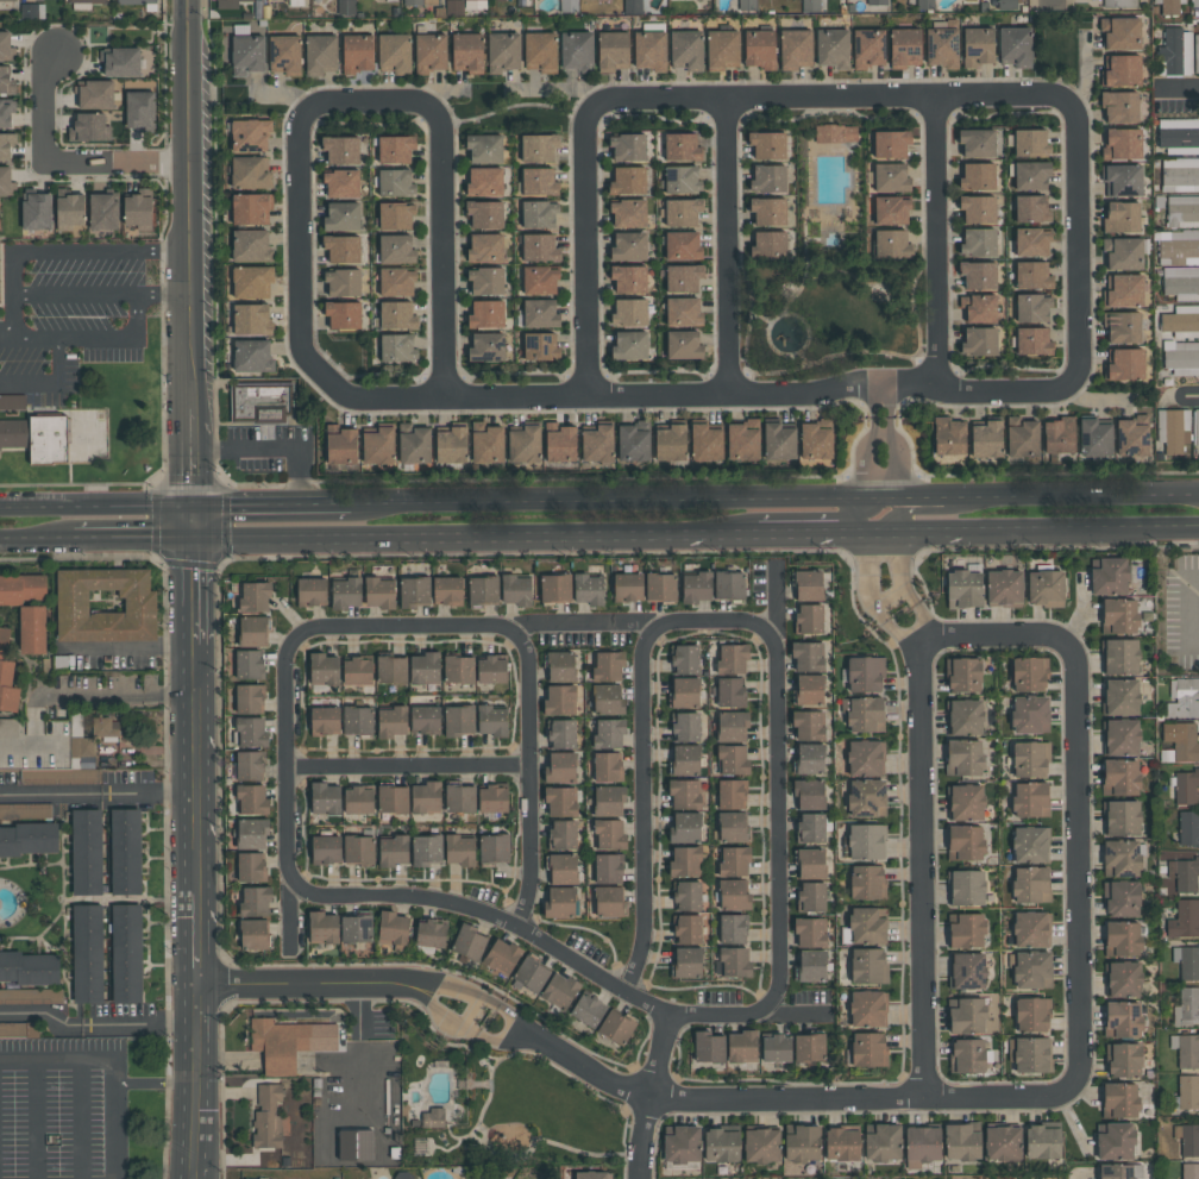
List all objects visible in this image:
building: (7, 0)
building: (391, 0)
building: (969, 0)
building: (86, 1)
building: (136, 2)
building: (421, 2)
building: (699, 2)
building: (877, 2)
building: (1194, 2)
building: (230, 4)
road: (1052, 4)
building: (1119, 4)
building: (747, 5)
building: (925, 5)
building: (1007, 5)
building: (633, 6)
building: (810, 6)
building: (1169, 6)
building: (346, 7)
building: (454, 7)
building: (29, 11)
building: (1120, 33)
park: (115, 36)
building: (6, 46)
building: (978, 46)
building: (1015, 46)
building: (833, 48)
building: (868, 48)
building: (905, 48)
building: (942, 48)
building: (685, 49)
building: (760, 49)
building: (796, 49)
building: (1197, 49)
building: (577, 50)
building: (649, 50)
building: (723, 50)
building: (540, 51)
building: (394, 52)
building: (431, 52)
building: (467, 52)
building: (503, 52)
building: (1175, 52)
building: (321, 54)
building: (357, 54)
building: (247, 55)
building: (285, 55)
building: (121, 62)
building: (1122, 70)
road: (1084, 71)
building: (6, 81)
road: (1184, 89)
building: (95, 95)
road: (778, 101)
road: (514, 106)
building: (1120, 107)
building: (140, 109)
road: (1069, 111)
building: (6, 112)
road: (830, 112)
road: (935, 113)
road: (1005, 114)
road: (727, 115)
road: (657, 117)
road: (590, 118)
road: (437, 120)
road: (300, 123)
road: (369, 125)
building: (89, 127)
building: (835, 133)
building: (250, 134)
building: (891, 143)
building: (977, 143)
building: (1031, 143)
building: (1122, 143)
building: (6, 145)
building: (767, 145)
building: (484, 148)
building: (539, 148)
building: (628, 148)
building: (682, 148)
building: (341, 149)
building: (395, 149)
road: (61, 163)
building: (251, 173)
building: (1031, 175)
building: (1180, 175)
building: (978, 176)
building: (891, 177)
building: (768, 178)
building: (682, 180)
building: (1123, 180)
building: (6, 181)
building: (485, 181)
building: (628, 181)
building: (539, 182)
building: (341, 183)
building: (396, 183)
building: (251, 208)
building: (978, 208)
building: (1031, 208)
building: (138, 209)
building: (70, 211)
building: (103, 211)
building: (768, 211)
building: (892, 211)
building: (1182, 211)
building: (37, 212)
building: (683, 212)
building: (628, 213)
building: (485, 214)
building: (539, 214)
building: (396, 215)
building: (343, 217)
building: (1122, 217)
road: (442, 240)
building: (1032, 242)
building: (978, 243)
building: (892, 244)
building: (251, 245)
building: (683, 245)
building: (768, 245)
building: (629, 246)
building: (485, 247)
building: (540, 247)
road: (724, 247)
road: (931, 247)
building: (1178, 247)
building: (343, 249)
building: (396, 249)
road: (80, 250)
building: (1123, 253)
building: (978, 275)
building: (1032, 275)
building: (683, 277)
building: (629, 278)
building: (540, 280)
building: (252, 281)
building: (486, 281)
building: (343, 282)
building: (397, 282)
road: (862, 283)
building: (1181, 283)
road: (751, 289)
road: (75, 291)
road: (161, 291)
building: (1124, 291)
road: (916, 295)
building: (979, 307)
building: (1032, 308)
building: (629, 312)
building: (683, 312)
building: (540, 313)
building: (344, 314)
building: (486, 314)
building: (397, 315)
road: (11, 316)
building: (252, 319)
park: (828, 320)
building: (1181, 320)
road: (300, 325)
building: (1123, 326)
road: (117, 337)
building: (979, 341)
building: (1032, 341)
building: (630, 345)
building: (684, 345)
building: (486, 346)
building: (541, 346)
building: (397, 347)
road: (854, 353)
building: (253, 355)
building: (1181, 357)
road: (55, 358)
building: (1125, 364)
road: (745, 365)
road: (941, 368)
road: (1009, 368)
road: (1074, 370)
road: (515, 371)
road: (659, 372)
road: (383, 374)
road: (724, 376)
road: (326, 377)
road: (589, 377)
road: (442, 378)
road: (1191, 396)
road: (1099, 397)
building: (265, 402)
road: (881, 406)
building: (1195, 427)
building: (1172, 428)
building: (33, 432)
building: (949, 435)
building: (1059, 435)
building: (1132, 437)
building: (1022, 438)
building: (1094, 438)
building: (817, 439)
building: (986, 439)
building: (743, 440)
building: (634, 441)
building: (779, 441)
building: (488, 443)
building: (560, 443)
building: (671, 443)
building: (707, 443)
building: (414, 444)
building: (597, 444)
building: (340, 445)
building: (452, 445)
building: (525, 445)
building: (378, 446)
road: (269, 447)
road: (880, 458)
road: (90, 484)
road: (30, 485)
road: (1096, 496)
road: (936, 498)
road: (615, 503)
road: (269, 507)
road: (927, 508)
road: (94, 509)
traffic signals: (189, 509)
road: (786, 516)
road: (1075, 529)
road: (822, 533)
road: (440, 539)
road: (131, 541)
traffic signals: (189, 541)
road: (37, 543)
road: (899, 570)
building: (1110, 577)
road: (868, 578)
building: (729, 585)
building: (808, 585)
building: (628, 587)
building: (696, 587)
building: (660, 588)
building: (1004, 588)
building: (1046, 588)
building: (21, 589)
road: (189, 589)
building: (555, 589)
building: (589, 589)
building: (965, 589)
building: (447, 590)
building: (483, 590)
building: (516, 590)
building: (312, 591)
building: (414, 591)
building: (346, 592)
building: (379, 592)
road: (891, 596)
building: (255, 597)
building: (106, 604)
road: (1195, 610)
building: (1119, 616)
building: (809, 619)
road: (921, 621)
road: (532, 623)
building: (33, 629)
building: (253, 631)
road: (911, 631)
road: (996, 633)
road: (873, 634)
road: (903, 635)
road: (935, 636)
road: (371, 640)
road: (127, 648)
road: (949, 648)
road: (912, 652)
building: (808, 657)
building: (1119, 657)
building: (685, 659)
building: (733, 659)
building: (250, 664)
building: (560, 666)
building: (608, 666)
building: (324, 669)
building: (425, 669)
building: (459, 669)
building: (393, 670)
building: (491, 670)
building: (358, 671)
building: (1028, 673)
building: (866, 675)
building: (963, 675)
building: (7, 678)
road: (759, 682)
building: (809, 690)
building: (685, 692)
building: (730, 692)
road: (70, 696)
building: (1120, 697)
building: (250, 698)
building: (1184, 698)
building: (560, 700)
building: (608, 700)
building: (864, 714)
building: (1030, 714)
building: (963, 717)
building: (357, 720)
building: (425, 720)
building: (325, 721)
building: (459, 721)
building: (492, 721)
building: (391, 722)
building: (808, 725)
building: (732, 726)
building: (685, 727)
building: (107, 729)
building: (251, 732)
building: (563, 734)
building: (609, 734)
building: (1120, 738)
building: (1180, 742)
building: (81, 745)
road: (440, 747)
road: (51, 750)
building: (866, 758)
building: (965, 758)
building: (733, 759)
building: (810, 759)
building: (1031, 759)
building: (685, 760)
road: (510, 763)
building: (250, 765)
road: (299, 765)
road: (408, 765)
building: (607, 766)
building: (560, 767)
building: (59, 776)
building: (1120, 777)
road: (529, 778)
road: (777, 780)
building: (1186, 786)
road: (80, 794)
road: (177, 794)
building: (732, 794)
building: (809, 794)
building: (684, 795)
building: (426, 797)
road: (287, 798)
building: (326, 798)
building: (393, 798)
building: (460, 798)
building: (867, 798)
building: (252, 799)
building: (492, 799)
building: (1030, 799)
building: (358, 801)
building: (609, 801)
building: (561, 802)
building: (966, 802)
building: (25, 810)
road: (642, 810)
building: (1122, 817)
building: (732, 827)
building: (811, 827)
building: (1188, 827)
building: (685, 828)
building: (252, 834)
building: (609, 834)
building: (563, 835)
building: (29, 838)
road: (62, 840)
road: (515, 840)
building: (867, 841)
building: (966, 842)
building: (1030, 845)
building: (495, 848)
building: (326, 849)
building: (358, 849)
building: (427, 849)
building: (394, 851)
building: (459, 851)
building: (1122, 858)
building: (685, 861)
building: (734, 861)
building: (811, 864)
road: (1080, 865)
building: (251, 866)
road: (919, 867)
building: (563, 868)
building: (608, 868)
building: (1185, 873)
road: (360, 878)
building: (867, 882)
building: (1031, 884)
building: (966, 888)
road: (62, 891)
building: (734, 895)
building: (688, 896)
building: (811, 896)
building: (1122, 898)
road: (114, 899)
building: (255, 902)
building: (560, 902)
building: (608, 902)
road: (19, 903)
building: (107, 905)
park: (40, 908)
road: (521, 911)
building: (1185, 920)
building: (866, 926)
building: (324, 928)
building: (356, 928)
building: (393, 928)
road: (586, 929)
building: (688, 929)
building: (733, 929)
building: (1031, 929)
building: (966, 930)
building: (431, 933)
building: (810, 933)
building: (253, 934)
road: (538, 937)
building: (1122, 939)
building: (470, 942)
building: (502, 957)
building: (734, 961)
building: (1187, 961)
building: (688, 962)
road: (64, 965)
building: (812, 965)
building: (868, 966)
building: (1032, 970)
building: (30, 971)
building: (967, 971)
road: (466, 973)
building: (532, 974)
road: (630, 974)
building: (1123, 979)
road: (300, 983)
road: (452, 987)
building: (560, 990)
building: (31, 996)
road: (645, 1001)
building: (1187, 1006)
building: (868, 1009)
road: (1092, 1009)
building: (588, 1010)
road: (439, 1011)
road: (472, 1012)
road: (685, 1014)
road: (787, 1014)
building: (1032, 1014)
building: (967, 1016)
road: (900, 1017)
building: (1123, 1020)
road: (181, 1023)
road: (520, 1023)
road: (79, 1026)
building: (616, 1027)
building: (19, 1028)
road: (438, 1036)
road: (509, 1037)
building: (288, 1042)
road: (357, 1047)
building: (709, 1047)
building: (742, 1047)
building: (809, 1047)
building: (777, 1048)
building: (868, 1049)
building: (1187, 1049)
building: (1032, 1054)
building: (967, 1055)
road: (488, 1058)
road: (58, 1060)
building: (1124, 1060)
road: (231, 1062)
road: (439, 1067)
road: (118, 1071)
road: (654, 1071)
road: (492, 1073)
road: (922, 1078)
road: (159, 1080)
road: (629, 1089)
building: (1188, 1092)
road: (902, 1093)
road: (943, 1095)
road: (408, 1096)
road: (450, 1096)
road: (651, 1096)
road: (668, 1096)
road: (797, 1096)
building: (1119, 1099)
park: (501, 1106)
parking lot: (63, 1108)
road: (458, 1114)
road: (644, 1114)
building: (268, 1115)
building: (435, 1117)
road: (37, 1120)
road: (81, 1120)
road: (450, 1121)
road: (477, 1125)
road: (450, 1127)
road: (624, 1129)
road: (118, 1130)
road: (485, 1131)
road: (471, 1135)
road: (452, 1136)
building: (1189, 1139)
building: (962, 1141)
building: (1043, 1141)
building: (1003, 1142)
building: (1116, 1142)
building: (884, 1143)
building: (356, 1144)
building: (683, 1144)
building: (722, 1144)
building: (803, 1144)
building: (842, 1144)
building: (761, 1146)
building: (922, 1146)
road: (626, 1167)
building: (1120, 1171)
building: (1189, 1171)
building: (592, 1174)
building: (402, 1175)
building: (268, 1178)

